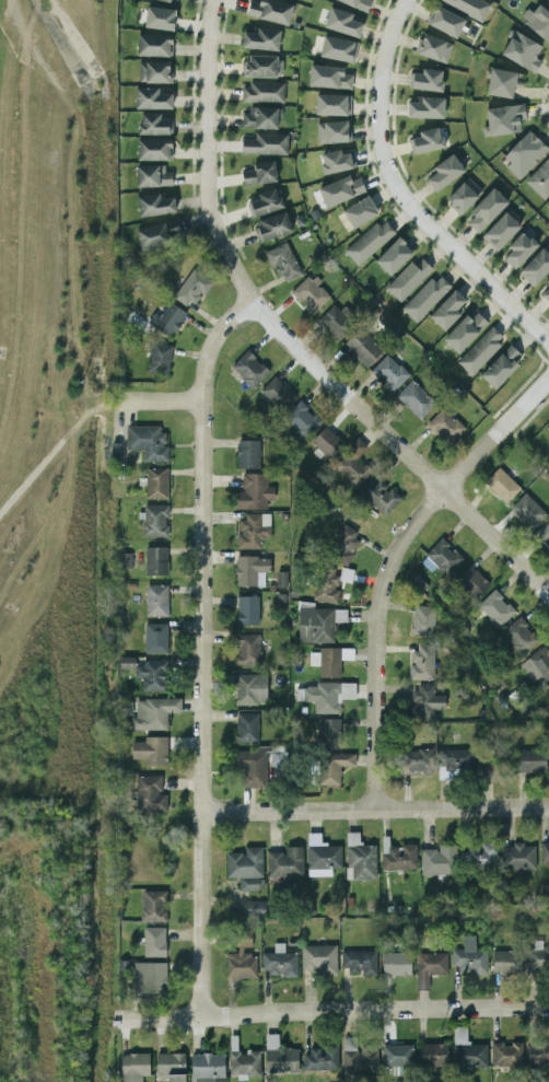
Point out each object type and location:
building: (174, 0)
building: (548, 0)
building: (355, 3)
building: (469, 7)
building: (270, 11)
building: (159, 19)
building: (445, 21)
building: (538, 21)
building: (342, 23)
building: (261, 39)
building: (154, 46)
building: (433, 48)
building: (338, 49)
building: (522, 51)
building: (261, 67)
building: (154, 72)
building: (329, 78)
building: (427, 80)
building: (502, 83)
building: (262, 92)
building: (153, 98)
building: (332, 105)
building: (425, 108)
road: (208, 117)
building: (261, 118)
building: (503, 120)
building: (155, 124)
building: (332, 132)
building: (428, 140)
building: (266, 144)
building: (154, 150)
building: (524, 154)
building: (337, 161)
building: (445, 173)
building: (260, 174)
building: (153, 176)
building: (540, 179)
building: (340, 190)
road: (405, 195)
building: (463, 196)
building: (265, 202)
building: (155, 205)
building: (548, 206)
building: (486, 210)
building: (360, 212)
building: (271, 228)
building: (500, 232)
building: (157, 235)
building: (369, 242)
building: (519, 249)
building: (393, 257)
building: (282, 261)
building: (537, 266)
building: (408, 278)
building: (192, 288)
building: (546, 291)
building: (309, 294)
building: (425, 299)
building: (447, 311)
building: (167, 319)
building: (337, 321)
building: (465, 331)
building: (362, 347)
building: (480, 350)
building: (159, 359)
building: (501, 367)
building: (249, 369)
building: (389, 373)
building: (277, 394)
building: (416, 399)
road: (164, 400)
building: (301, 420)
road: (375, 420)
building: (444, 427)
building: (547, 428)
building: (147, 442)
building: (327, 442)
building: (247, 454)
building: (352, 465)
building: (156, 484)
building: (501, 486)
building: (254, 492)
building: (379, 496)
building: (527, 511)
building: (154, 521)
building: (252, 531)
building: (544, 534)
building: (344, 545)
building: (443, 557)
building: (126, 561)
building: (155, 561)
road: (392, 563)
building: (250, 570)
building: (471, 582)
building: (327, 585)
building: (156, 601)
building: (495, 608)
building: (247, 610)
building: (422, 620)
building: (317, 624)
building: (518, 637)
building: (155, 639)
road: (203, 650)
building: (248, 650)
building: (329, 661)
building: (422, 663)
building: (537, 665)
building: (147, 673)
building: (548, 687)
building: (250, 689)
building: (328, 696)
building: (425, 702)
building: (153, 713)
building: (246, 728)
building: (329, 733)
building: (150, 751)
building: (278, 760)
building: (456, 760)
building: (416, 761)
building: (530, 761)
building: (334, 767)
building: (252, 768)
building: (149, 794)
road: (375, 807)
building: (545, 852)
building: (479, 856)
building: (322, 857)
building: (398, 857)
building: (517, 858)
building: (360, 859)
building: (439, 861)
building: (285, 863)
building: (245, 868)
building: (153, 906)
building: (256, 909)
building: (154, 942)
building: (468, 957)
building: (242, 958)
building: (535, 958)
building: (318, 959)
building: (279, 962)
building: (506, 962)
building: (360, 963)
building: (396, 964)
building: (429, 968)
building: (149, 977)
road: (332, 1010)
building: (467, 1051)
building: (538, 1051)
building: (397, 1055)
building: (432, 1055)
building: (506, 1055)
building: (279, 1057)
building: (359, 1058)
building: (319, 1059)
building: (244, 1063)
building: (133, 1067)
building: (171, 1067)
building: (208, 1068)

